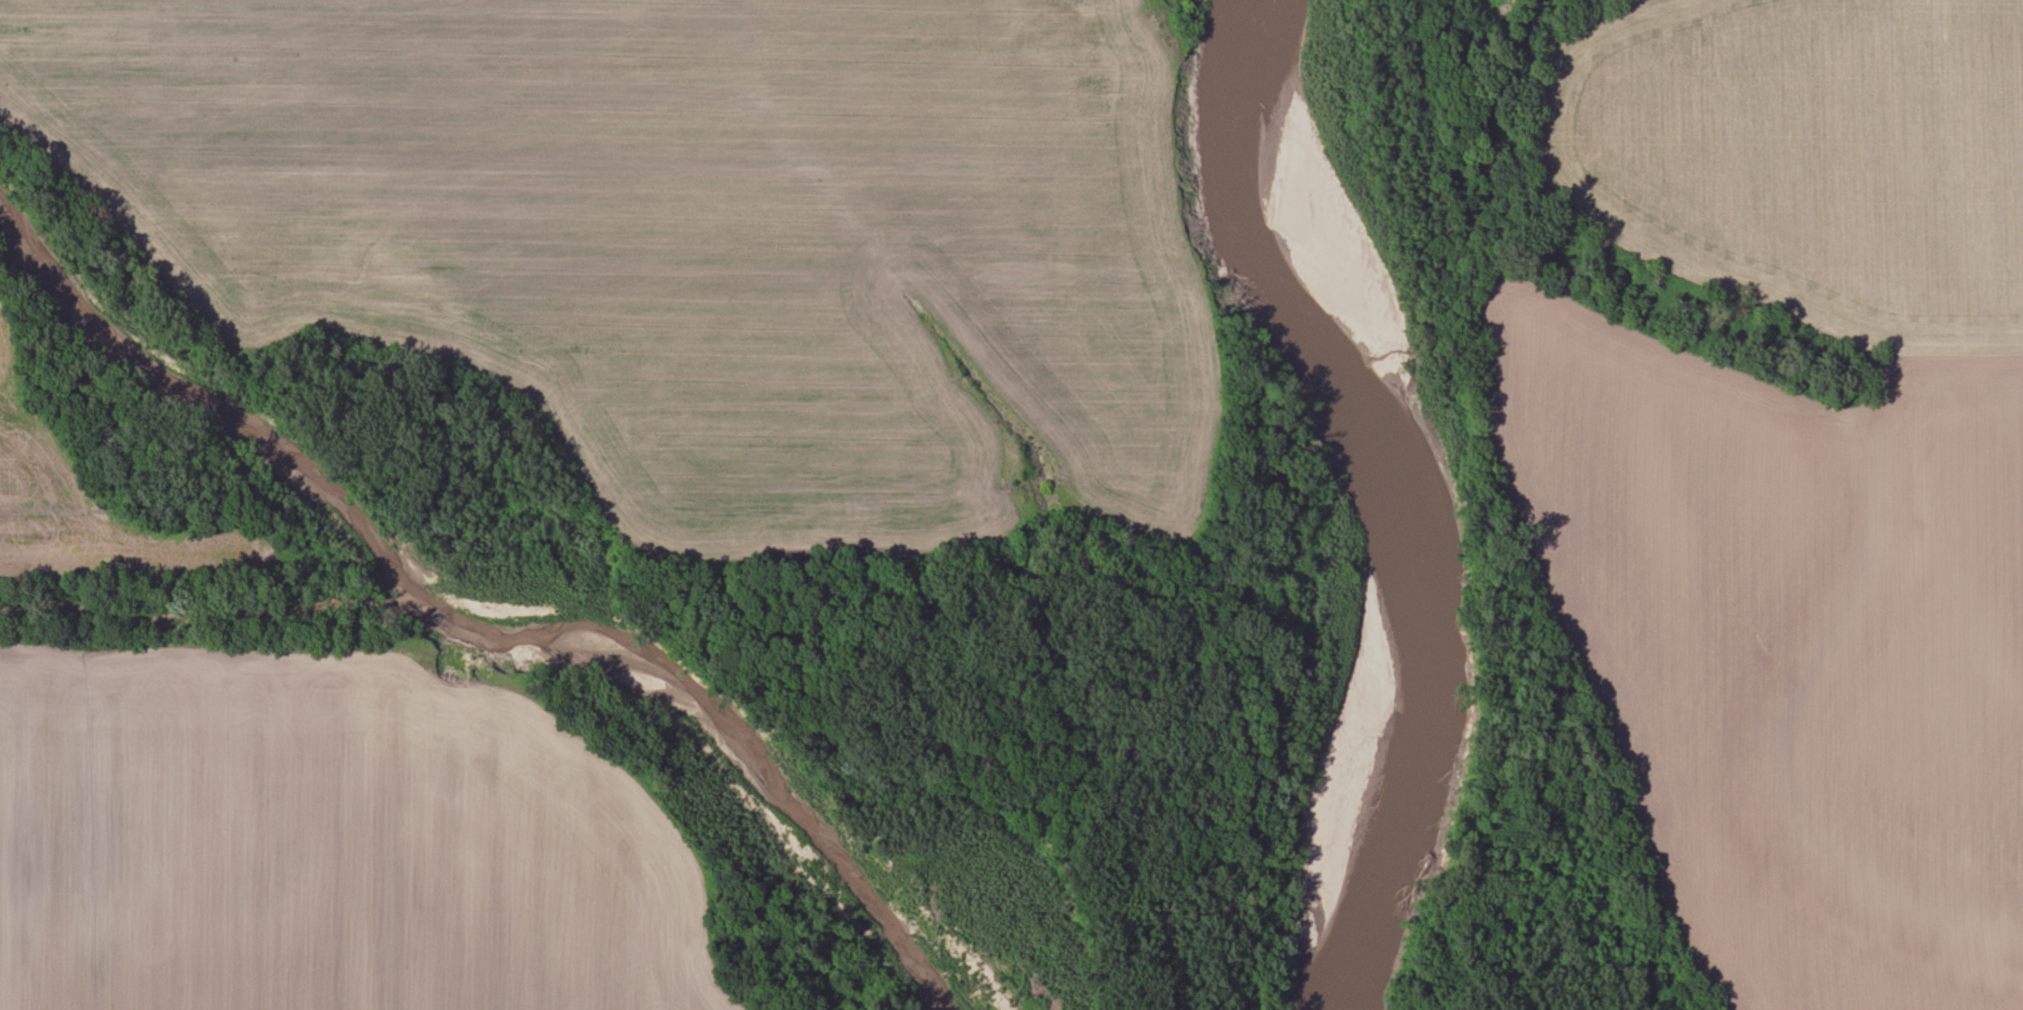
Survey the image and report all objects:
river: (1397, 497)

